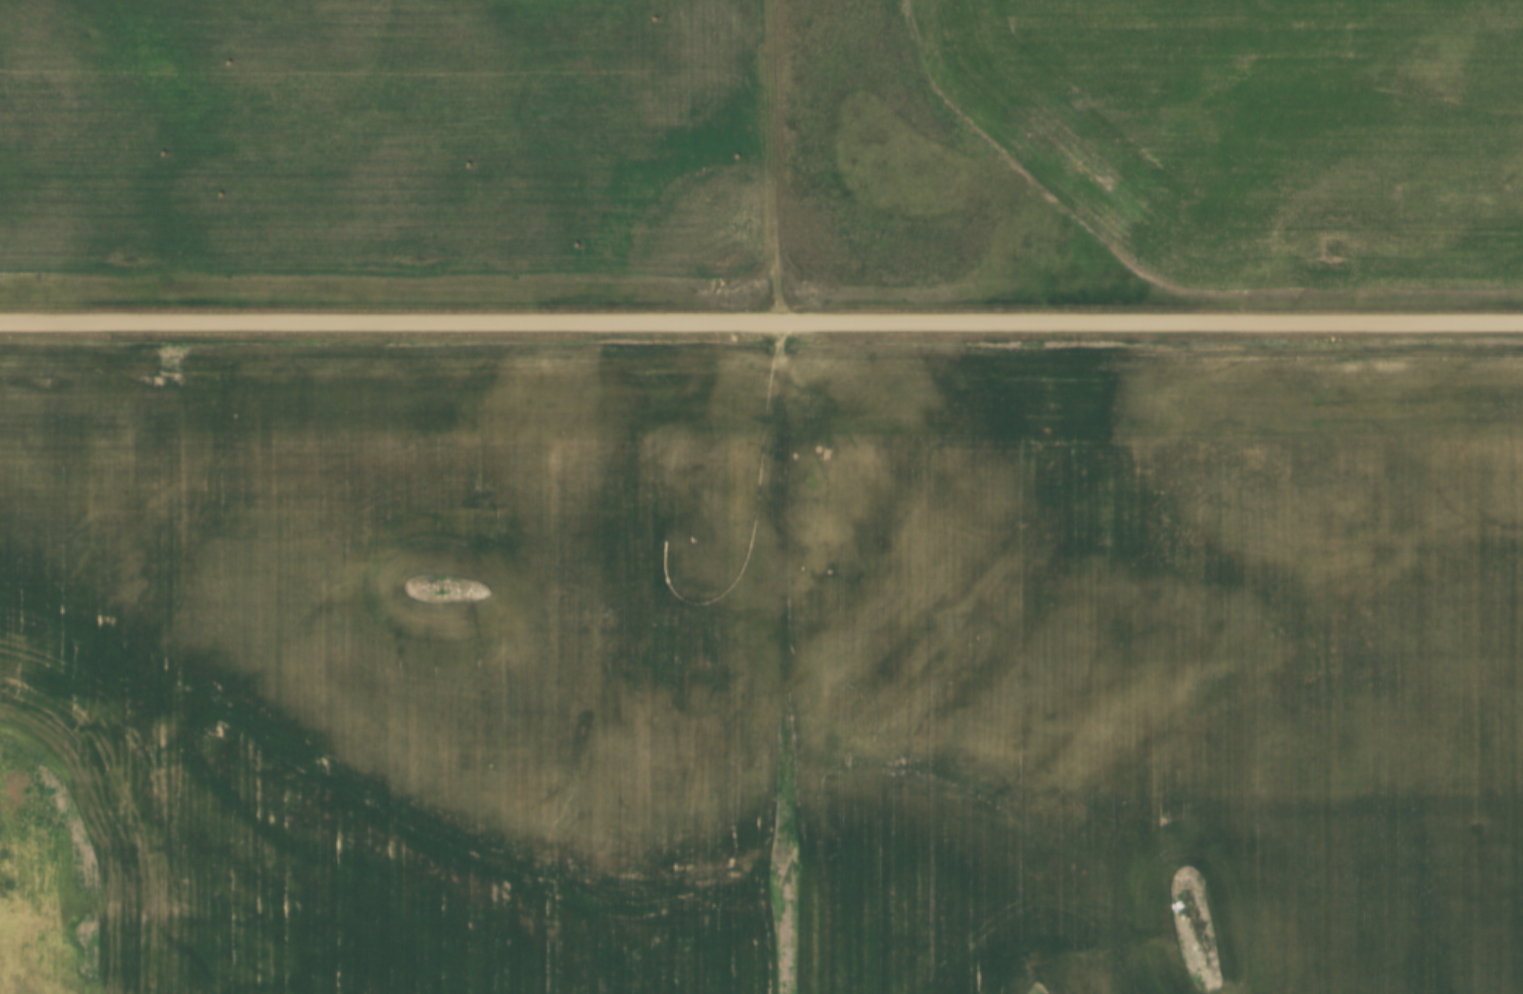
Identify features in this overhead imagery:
road: (774, 161)
road: (761, 322)

